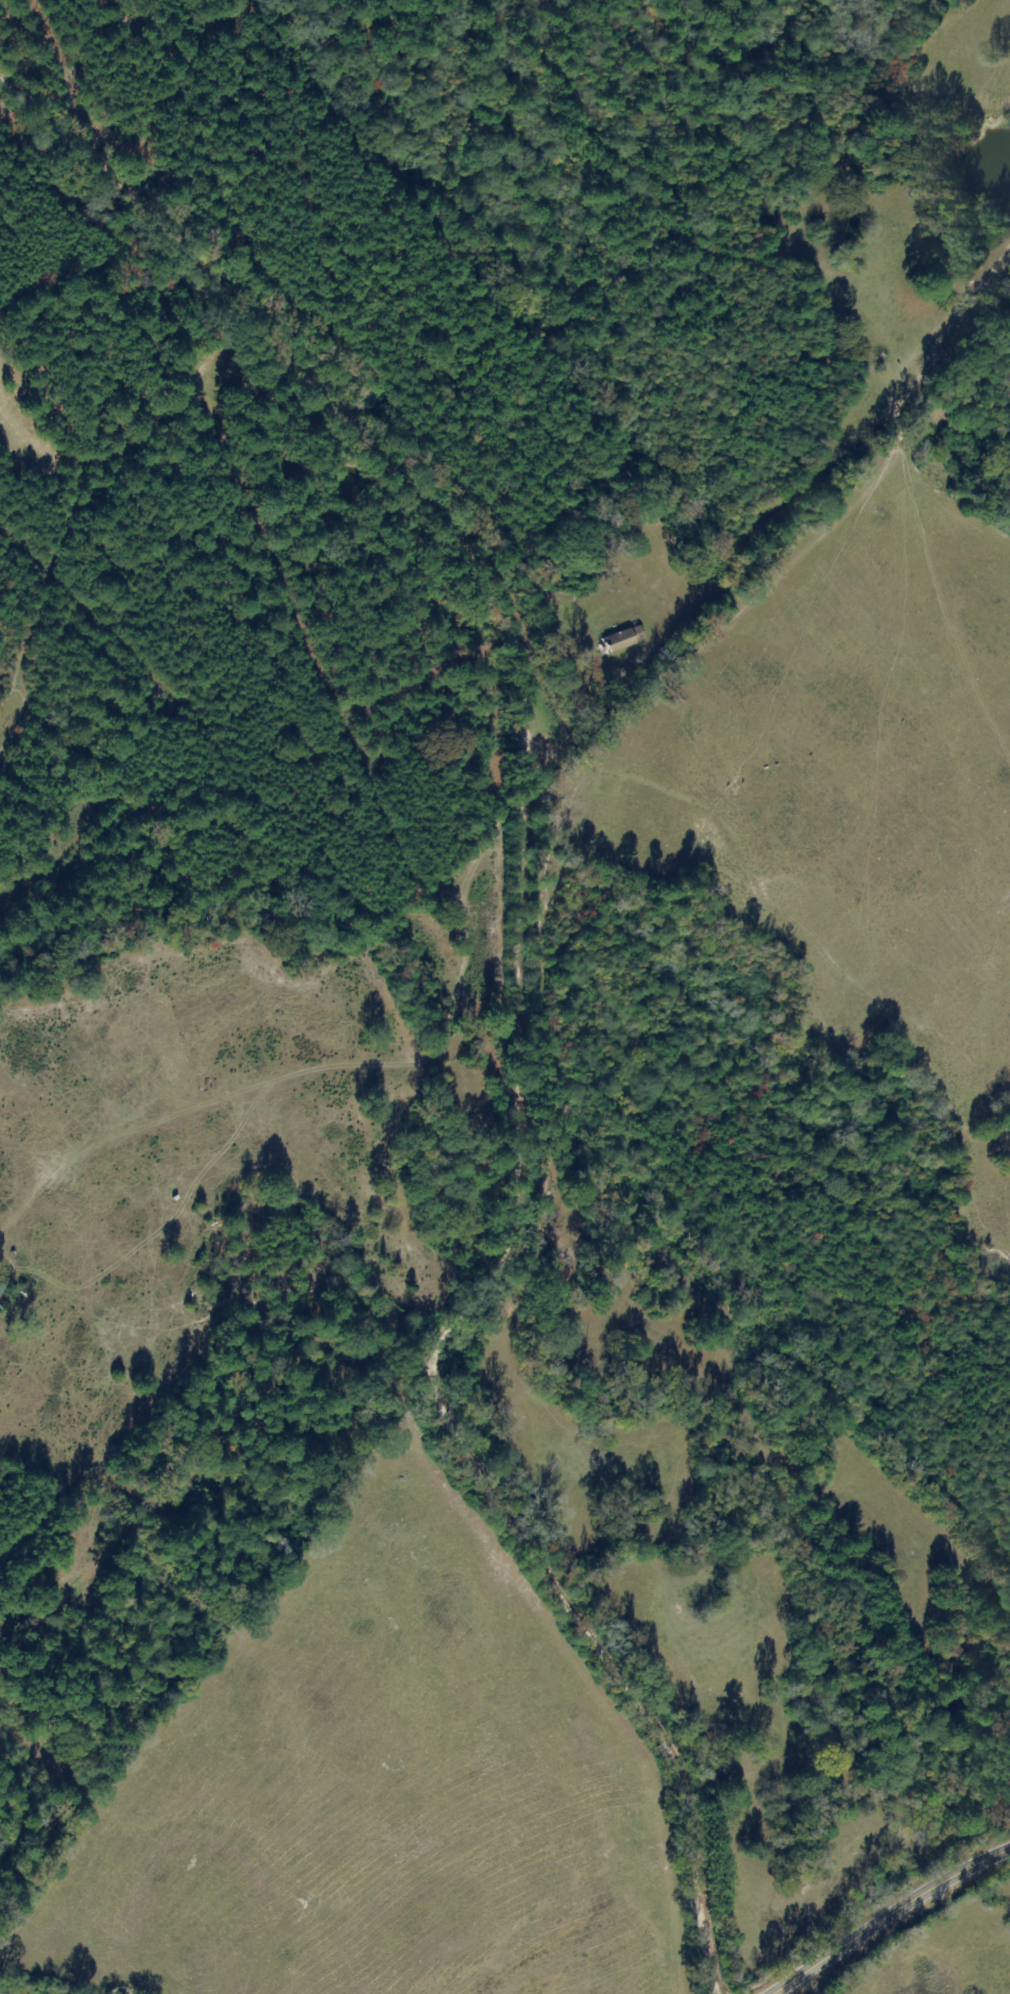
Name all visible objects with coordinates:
building: (622, 640)
road: (513, 993)
road: (890, 1917)

